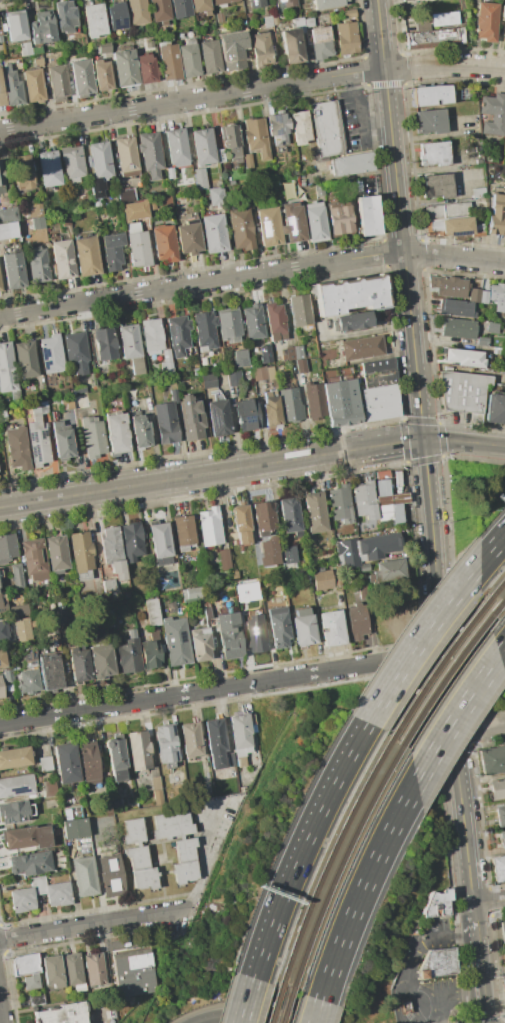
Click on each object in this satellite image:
building: (405, 0)
building: (222, 2)
building: (286, 2)
building: (255, 3)
building: (326, 3)
building: (201, 6)
building: (180, 8)
building: (160, 11)
building: (137, 12)
building: (503, 12)
building: (347, 13)
building: (65, 16)
building: (116, 16)
building: (219, 17)
building: (444, 18)
building: (93, 20)
building: (267, 21)
building: (486, 21)
building: (308, 22)
building: (422, 22)
building: (15, 25)
building: (45, 25)
building: (298, 25)
building: (241, 27)
building: (0, 28)
building: (434, 36)
building: (346, 38)
building: (504, 38)
building: (320, 42)
building: (291, 45)
building: (103, 47)
building: (261, 48)
building: (24, 49)
building: (231, 52)
building: (210, 56)
building: (188, 58)
building: (38, 61)
building: (169, 62)
building: (124, 68)
building: (146, 68)
building: (101, 75)
building: (81, 77)
building: (58, 82)
building: (33, 85)
building: (11, 86)
road: (251, 89)
building: (2, 92)
building: (463, 93)
building: (432, 95)
building: (493, 114)
road: (359, 115)
building: (430, 121)
building: (278, 128)
building: (300, 128)
building: (326, 128)
building: (504, 132)
building: (256, 137)
building: (230, 142)
building: (203, 146)
building: (176, 147)
building: (149, 153)
building: (434, 153)
building: (126, 155)
building: (219, 156)
building: (100, 160)
building: (247, 160)
building: (72, 163)
building: (352, 164)
building: (48, 168)
building: (22, 173)
building: (199, 177)
building: (2, 180)
road: (462, 181)
building: (230, 182)
building: (326, 186)
building: (437, 186)
building: (96, 187)
building: (318, 189)
building: (478, 192)
building: (125, 195)
building: (215, 196)
building: (164, 202)
building: (31, 210)
building: (134, 210)
building: (9, 214)
building: (495, 214)
building: (367, 215)
building: (339, 217)
building: (64, 219)
building: (450, 219)
road: (400, 220)
building: (315, 221)
building: (293, 222)
building: (37, 223)
building: (268, 226)
building: (240, 228)
building: (11, 229)
building: (504, 230)
building: (213, 233)
building: (188, 237)
building: (164, 243)
building: (137, 246)
building: (112, 250)
building: (86, 256)
building: (62, 259)
building: (36, 265)
building: (12, 270)
road: (252, 275)
building: (0, 286)
building: (451, 287)
building: (496, 292)
building: (349, 296)
building: (474, 296)
building: (483, 297)
building: (455, 308)
building: (300, 310)
building: (275, 321)
building: (353, 321)
building: (253, 322)
building: (229, 327)
building: (458, 328)
building: (204, 329)
road: (358, 331)
building: (178, 334)
building: (151, 336)
building: (482, 341)
building: (104, 343)
building: (130, 347)
building: (361, 348)
building: (76, 352)
building: (293, 353)
building: (50, 354)
building: (238, 357)
building: (463, 357)
building: (267, 358)
building: (25, 359)
building: (332, 363)
building: (166, 364)
building: (300, 366)
building: (6, 368)
building: (262, 373)
building: (378, 373)
building: (325, 377)
building: (233, 378)
building: (207, 381)
building: (463, 393)
building: (14, 396)
building: (314, 401)
building: (73, 402)
building: (340, 402)
building: (379, 402)
building: (290, 405)
building: (495, 409)
building: (270, 412)
building: (3, 414)
building: (246, 415)
building: (217, 417)
building: (191, 418)
building: (164, 423)
building: (139, 431)
building: (115, 432)
building: (37, 435)
building: (92, 437)
building: (61, 440)
traffic signals: (423, 441)
road: (464, 441)
building: (17, 448)
road: (211, 472)
building: (383, 487)
building: (364, 500)
building: (339, 504)
building: (389, 504)
building: (314, 512)
building: (289, 515)
building: (262, 517)
building: (241, 523)
building: (210, 526)
building: (183, 532)
building: (131, 541)
building: (160, 543)
building: (7, 548)
road: (491, 548)
building: (366, 549)
building: (81, 551)
building: (112, 551)
building: (269, 551)
building: (56, 554)
building: (287, 554)
building: (34, 559)
building: (224, 559)
building: (389, 571)
building: (0, 574)
building: (234, 574)
building: (16, 576)
building: (322, 580)
building: (168, 581)
building: (108, 585)
building: (240, 588)
railway: (497, 588)
building: (191, 592)
railway: (502, 601)
building: (270, 602)
building: (18, 609)
building: (207, 609)
building: (1, 610)
building: (151, 612)
building: (357, 622)
building: (279, 627)
building: (303, 627)
building: (332, 628)
building: (22, 630)
building: (3, 631)
building: (131, 634)
building: (230, 635)
building: (257, 638)
road: (418, 640)
building: (176, 642)
building: (199, 647)
road: (502, 651)
building: (150, 654)
building: (127, 656)
building: (2, 658)
building: (29, 659)
building: (101, 662)
building: (78, 666)
railway: (438, 666)
building: (50, 673)
railway: (447, 673)
road: (449, 674)
building: (7, 676)
building: (29, 681)
road: (223, 686)
building: (1, 690)
road: (455, 717)
building: (251, 723)
building: (240, 731)
road: (480, 733)
building: (191, 740)
building: (216, 741)
building: (166, 744)
building: (138, 750)
building: (242, 751)
building: (116, 755)
building: (14, 757)
building: (231, 759)
building: (88, 760)
building: (492, 760)
building: (240, 761)
building: (45, 763)
building: (66, 763)
building: (155, 783)
building: (16, 785)
building: (49, 788)
building: (497, 789)
building: (157, 797)
building: (15, 812)
building: (500, 814)
building: (74, 828)
building: (175, 832)
building: (42, 836)
building: (19, 837)
building: (501, 839)
building: (126, 843)
road: (301, 846)
road: (202, 855)
railway: (330, 855)
railway: (341, 860)
building: (30, 864)
building: (498, 870)
building: (184, 871)
building: (85, 876)
building: (111, 876)
building: (144, 878)
road: (362, 889)
building: (58, 894)
building: (22, 900)
building: (437, 903)
road: (490, 905)
road: (475, 912)
road: (91, 925)
building: (502, 931)
road: (410, 961)
building: (25, 963)
building: (438, 963)
building: (72, 969)
building: (95, 969)
road: (481, 969)
building: (52, 971)
building: (134, 971)
building: (504, 975)
building: (31, 982)
road: (456, 993)
building: (35, 999)
road: (244, 999)
railway: (276, 1001)
railway: (287, 1002)
building: (404, 1005)
road: (317, 1011)
road: (1, 1013)
building: (60, 1014)
road: (238, 1014)
road: (1, 1017)

